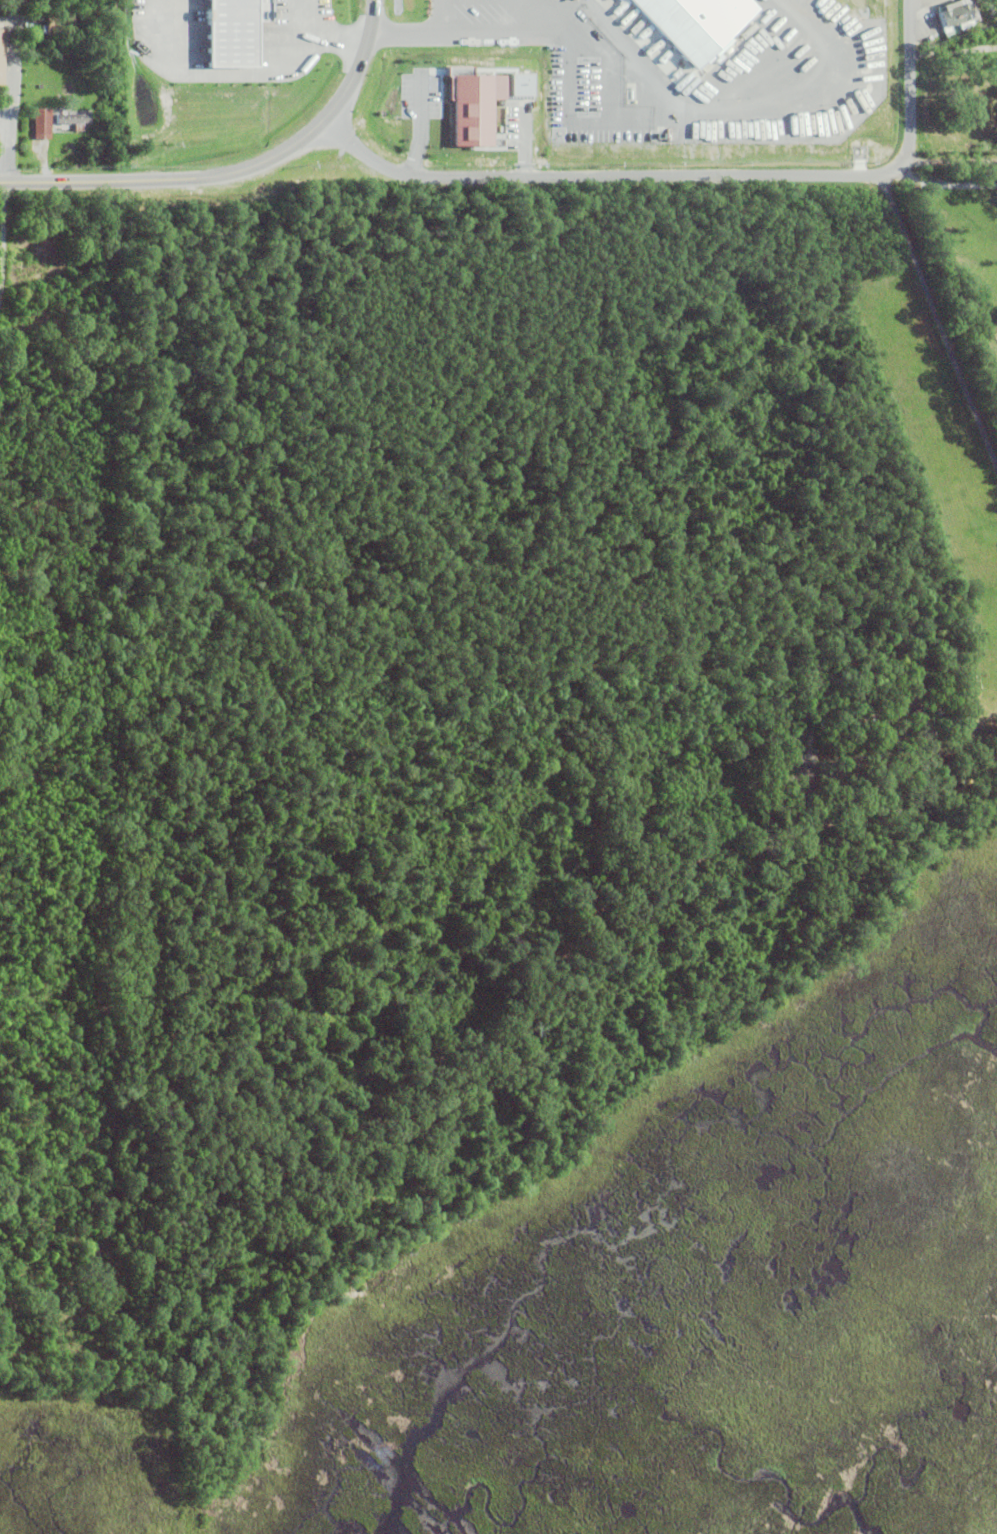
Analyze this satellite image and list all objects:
building: (572, 0)
road: (912, 0)
building: (956, 15)
road: (441, 19)
road: (536, 19)
building: (58, 23)
building: (681, 31)
road: (323, 33)
road: (593, 40)
road: (954, 51)
building: (2, 55)
road: (362, 64)
road: (12, 90)
building: (468, 108)
building: (73, 118)
building: (42, 122)
road: (950, 163)
road: (690, 174)
road: (171, 178)
road: (945, 183)
road: (939, 319)

